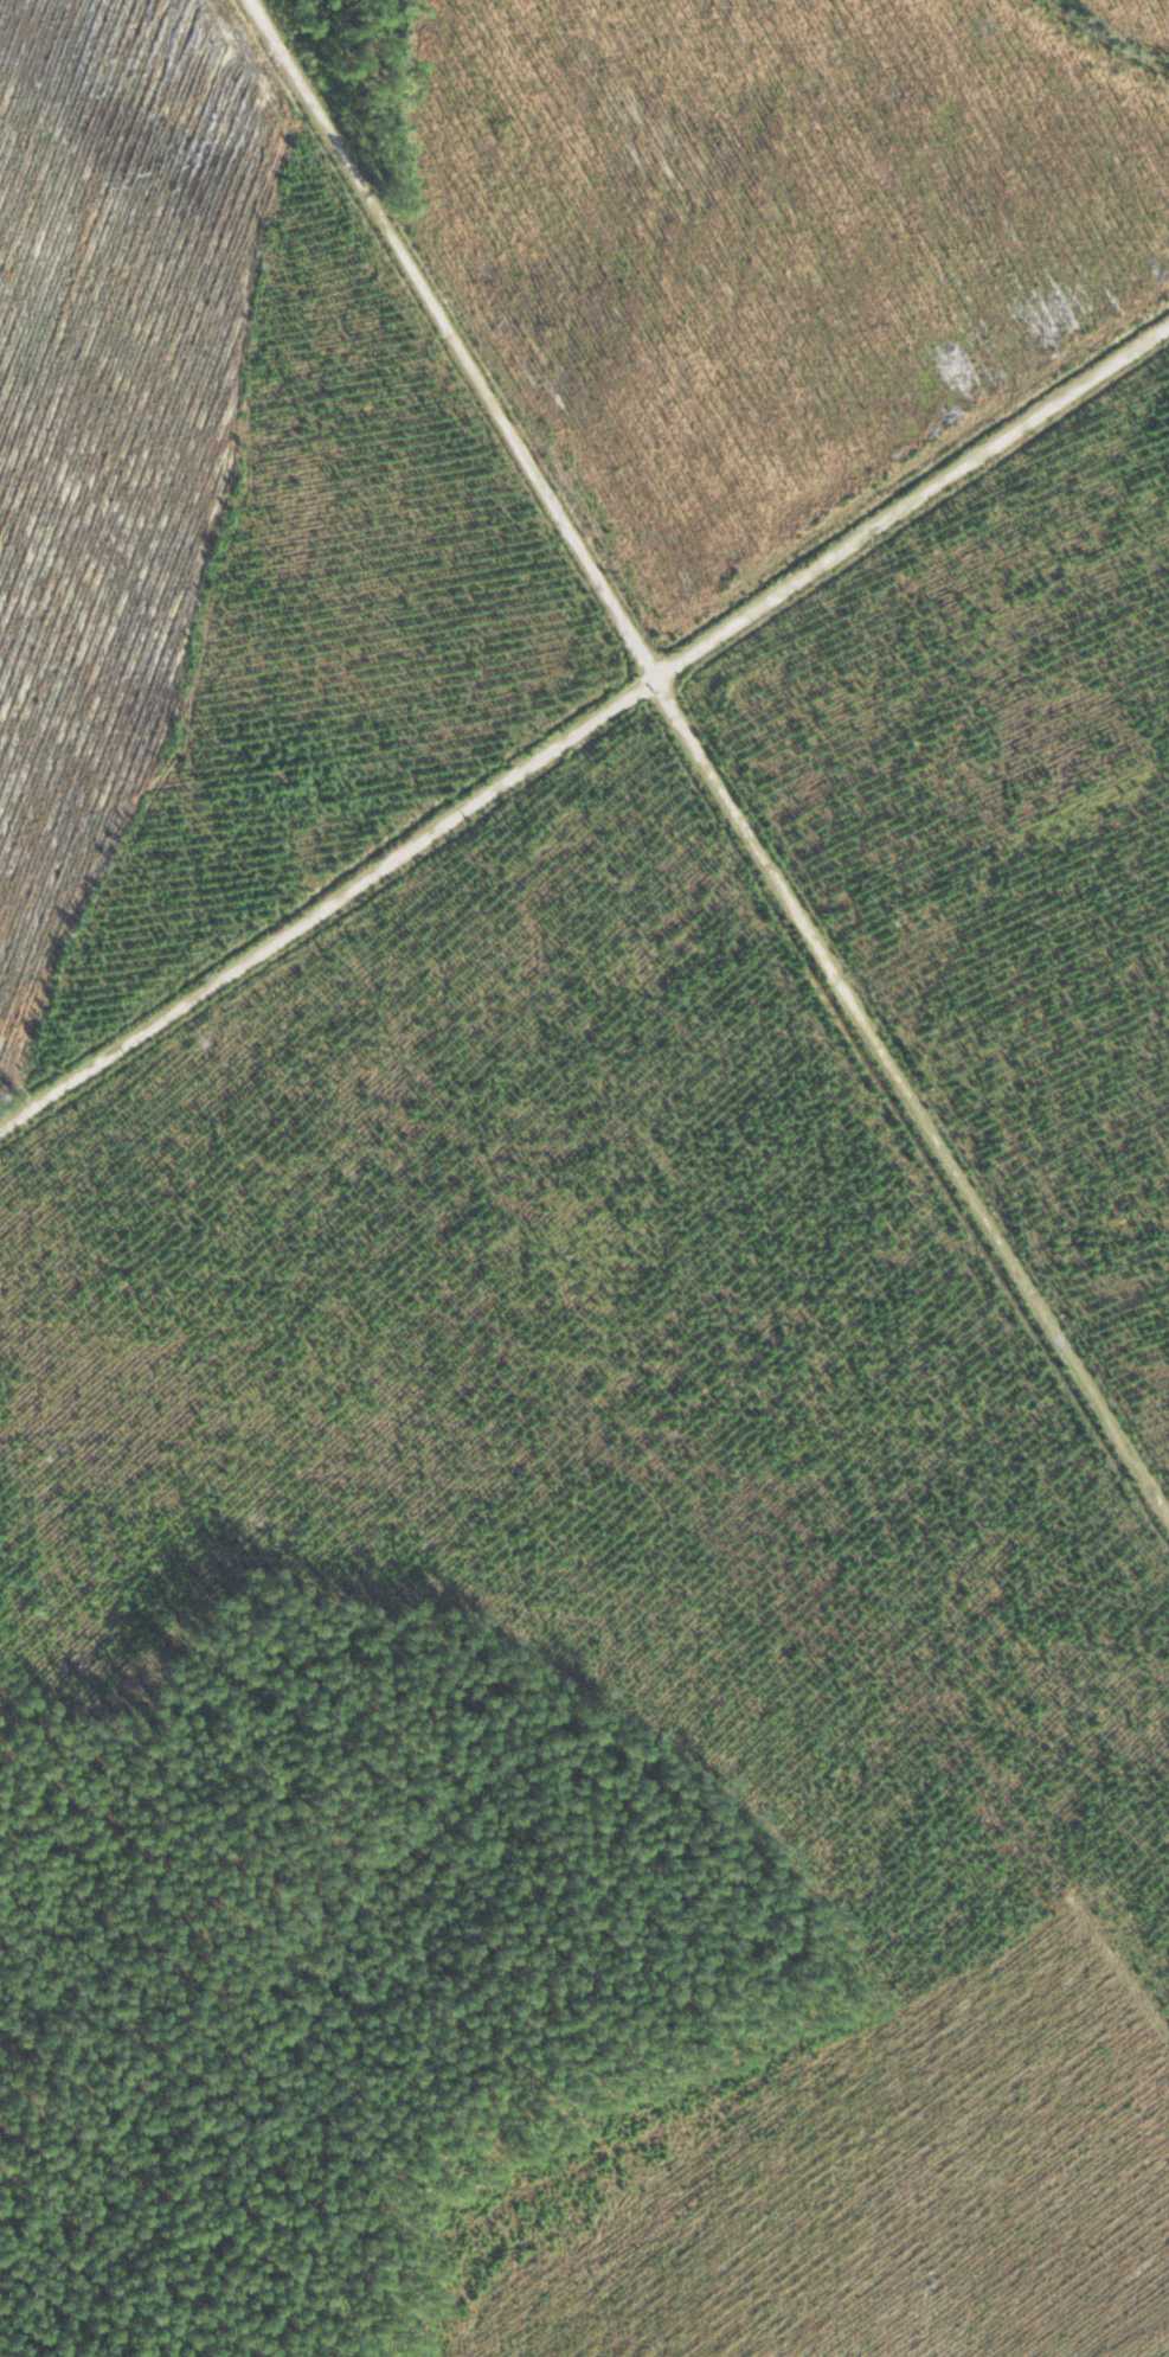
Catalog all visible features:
road: (573, 725)
road: (701, 743)

